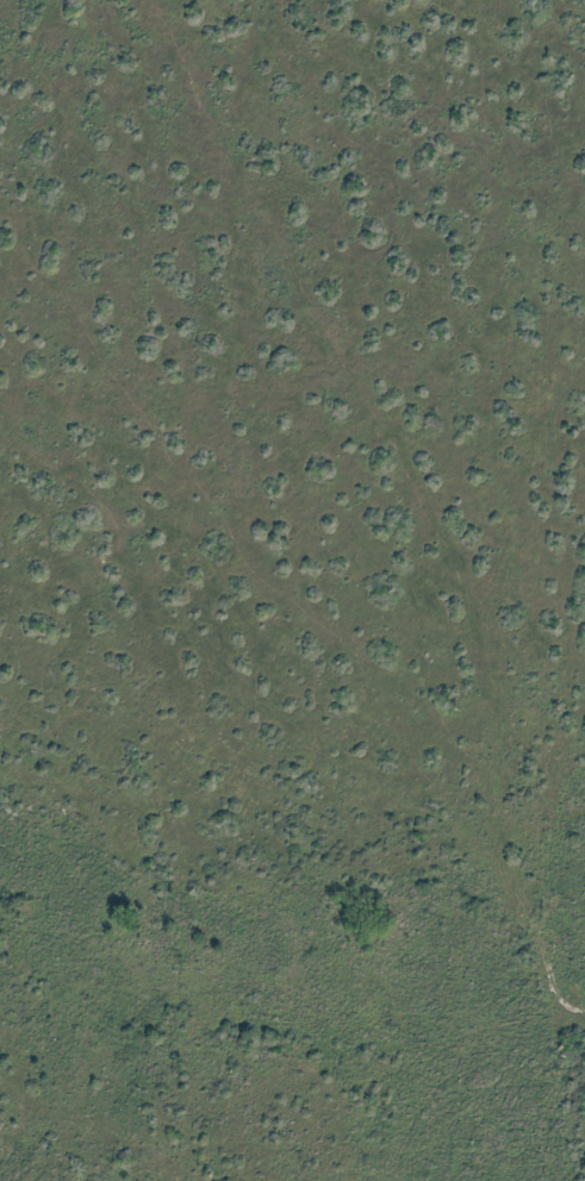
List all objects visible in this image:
road: (397, 481)

